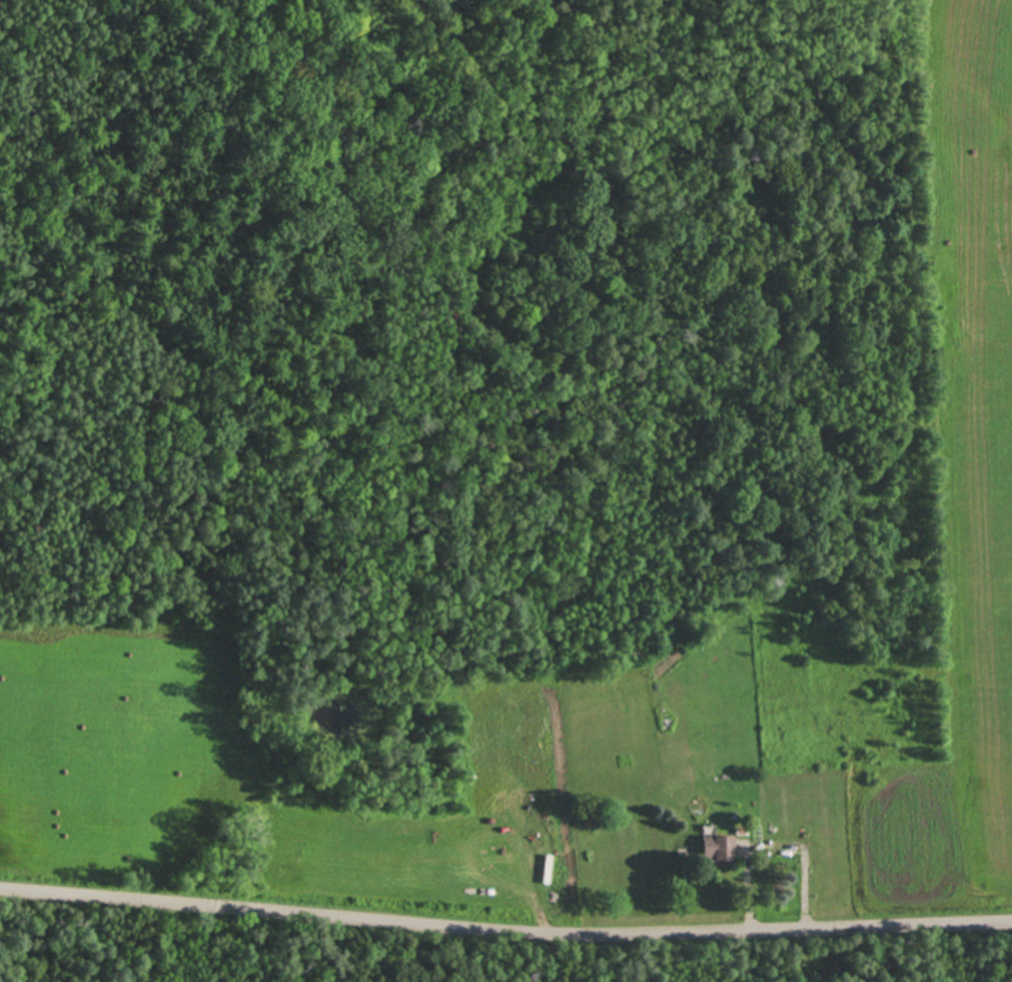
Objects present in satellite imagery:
building: (741, 832)
building: (715, 843)
road: (505, 932)

